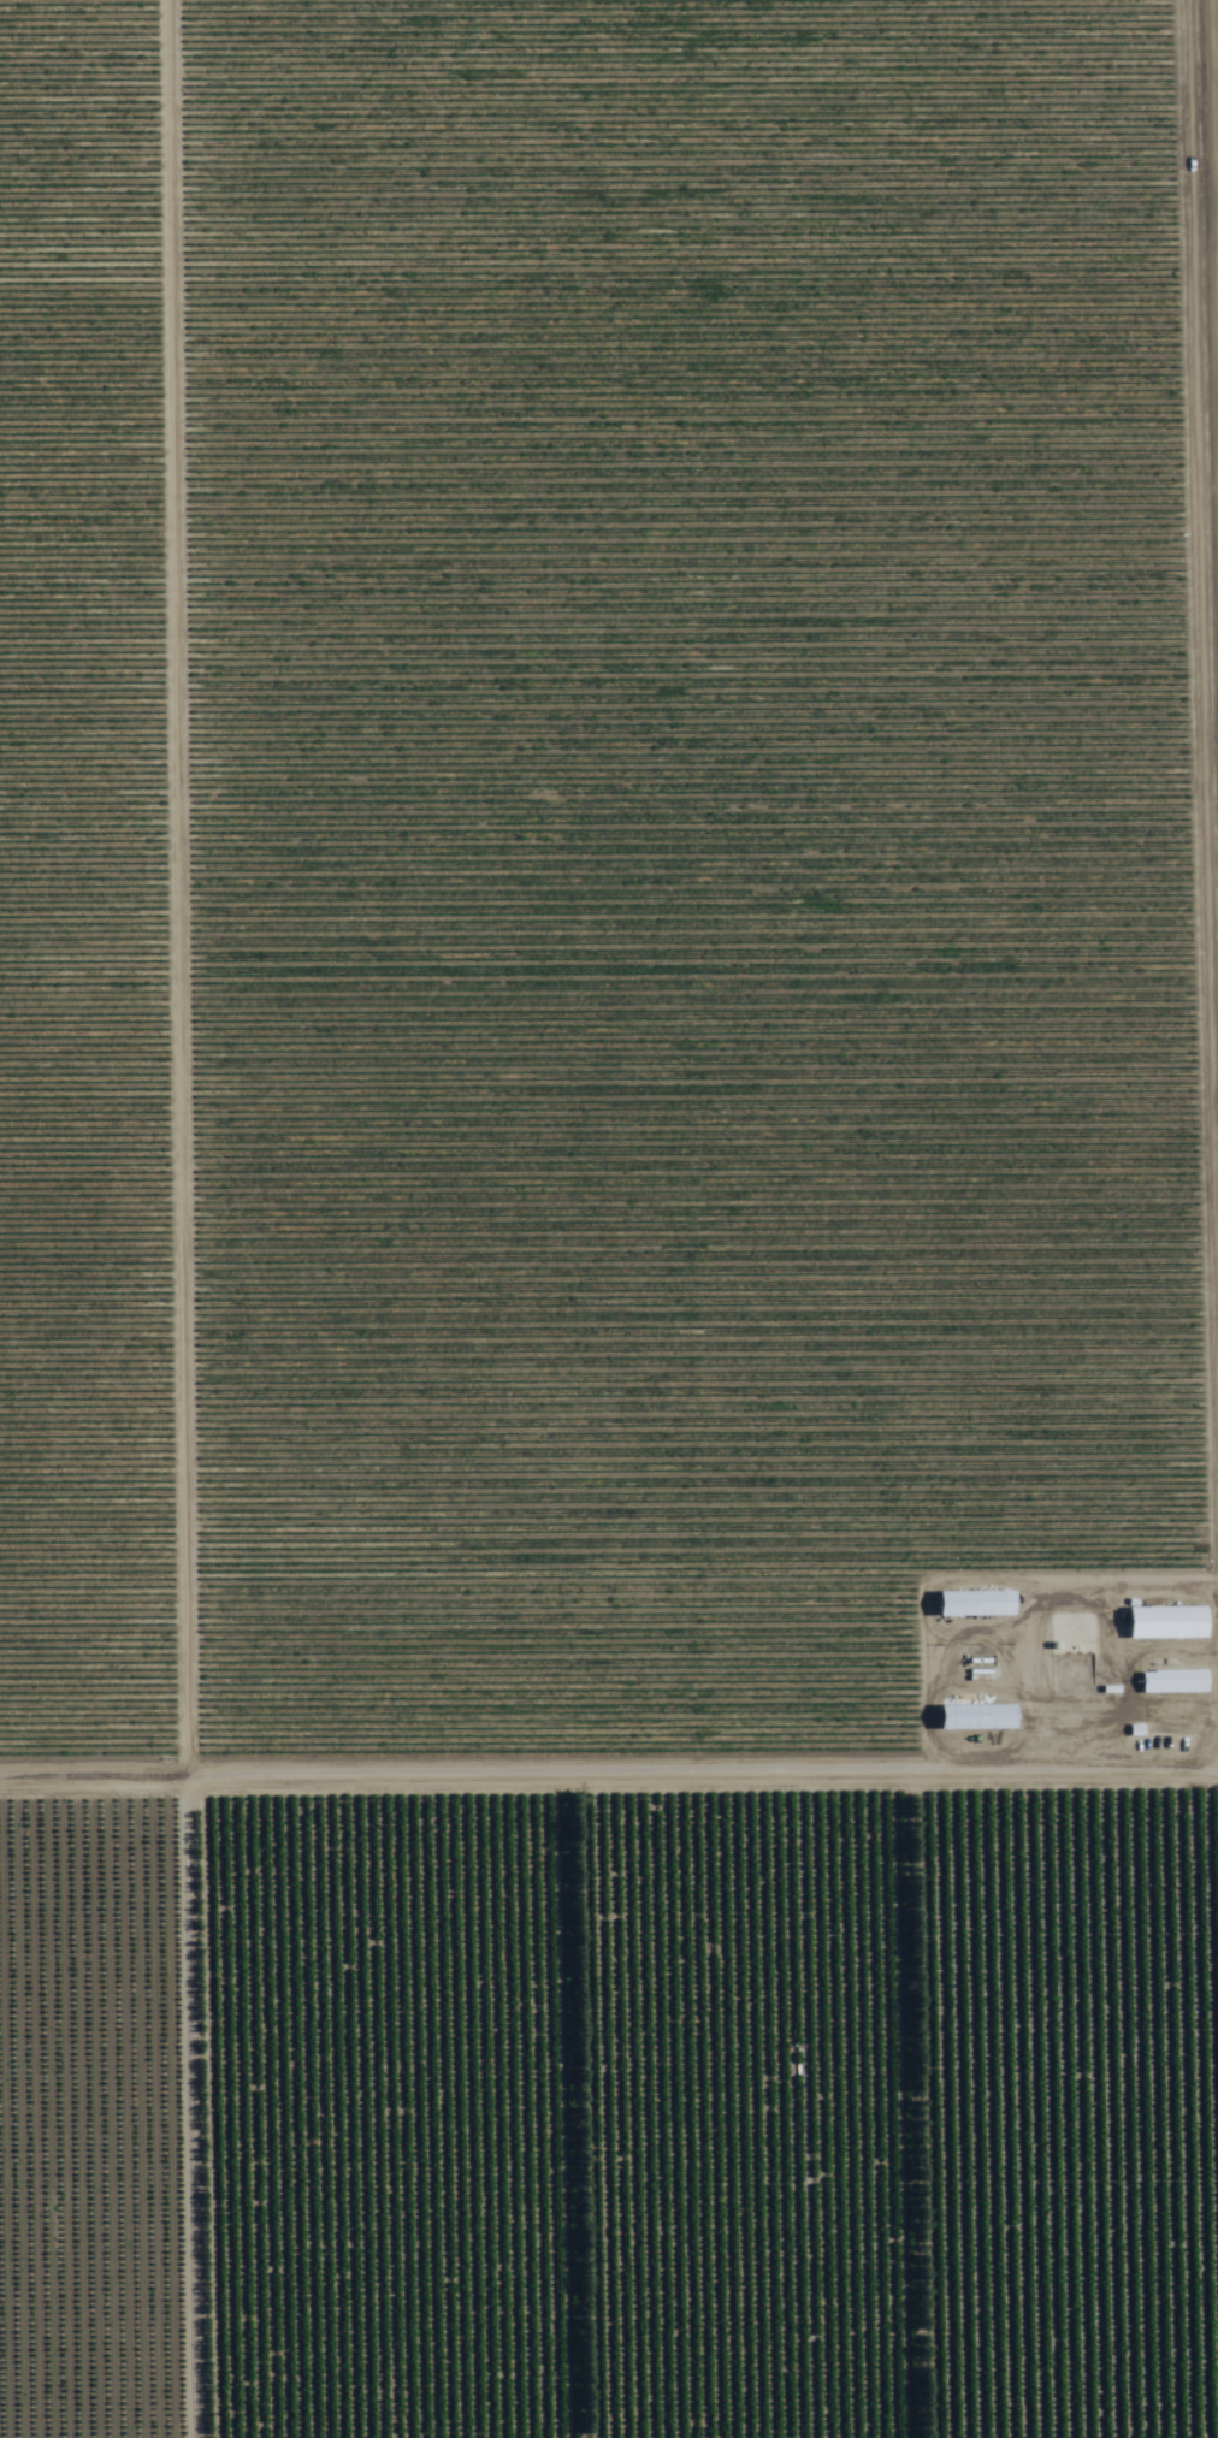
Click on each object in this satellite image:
road: (161, 1218)
crop: (609, 1219)
road: (1206, 1468)
building: (976, 1603)
building: (1166, 1622)
building: (1173, 1682)
building: (977, 1717)
road: (608, 1739)

